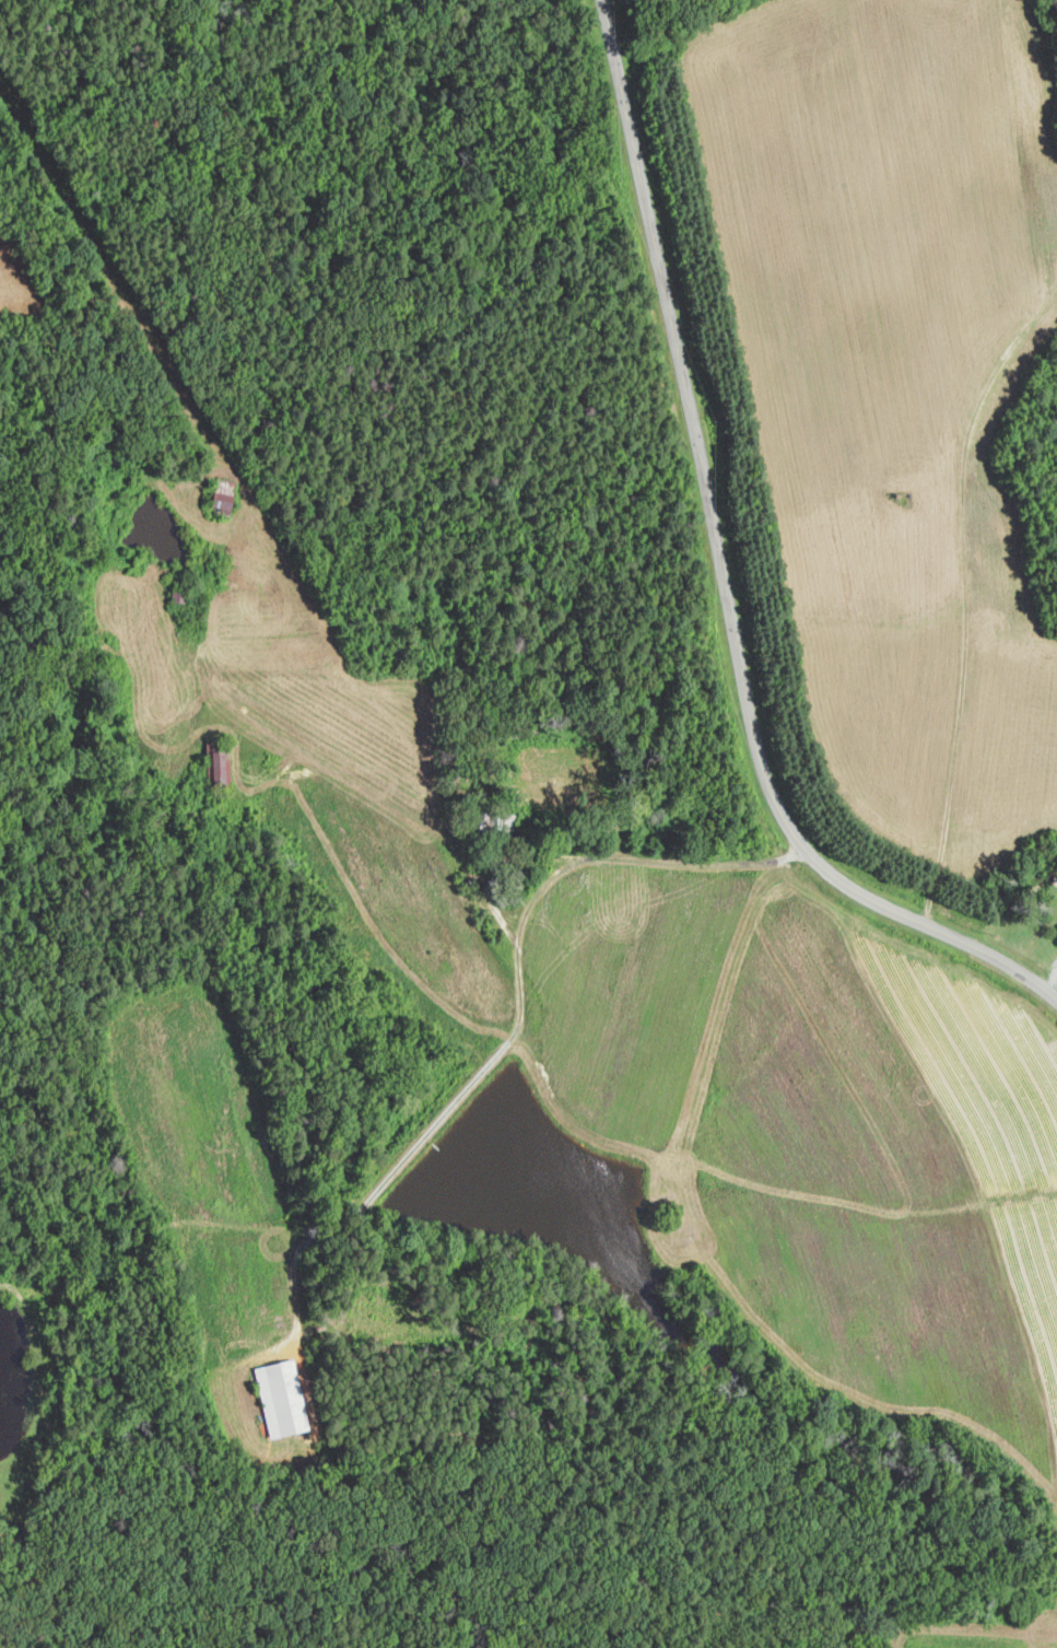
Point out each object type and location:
building: (226, 500)
road: (723, 573)
road: (352, 780)
road: (492, 867)
road: (517, 1019)
building: (284, 1398)

